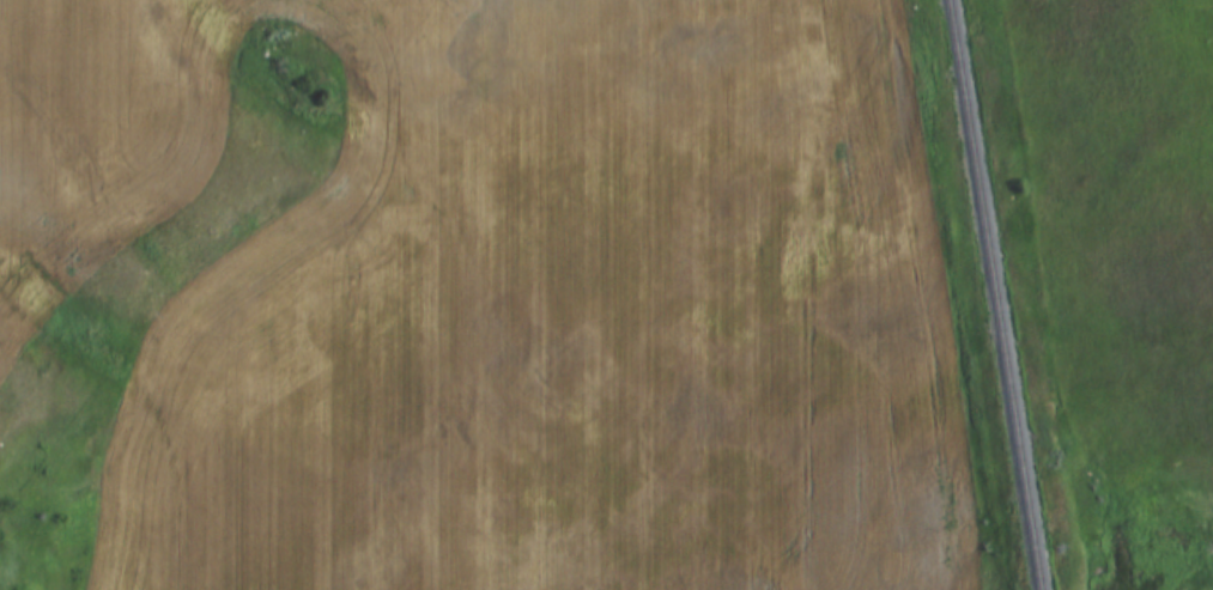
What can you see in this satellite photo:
railway: (999, 294)

